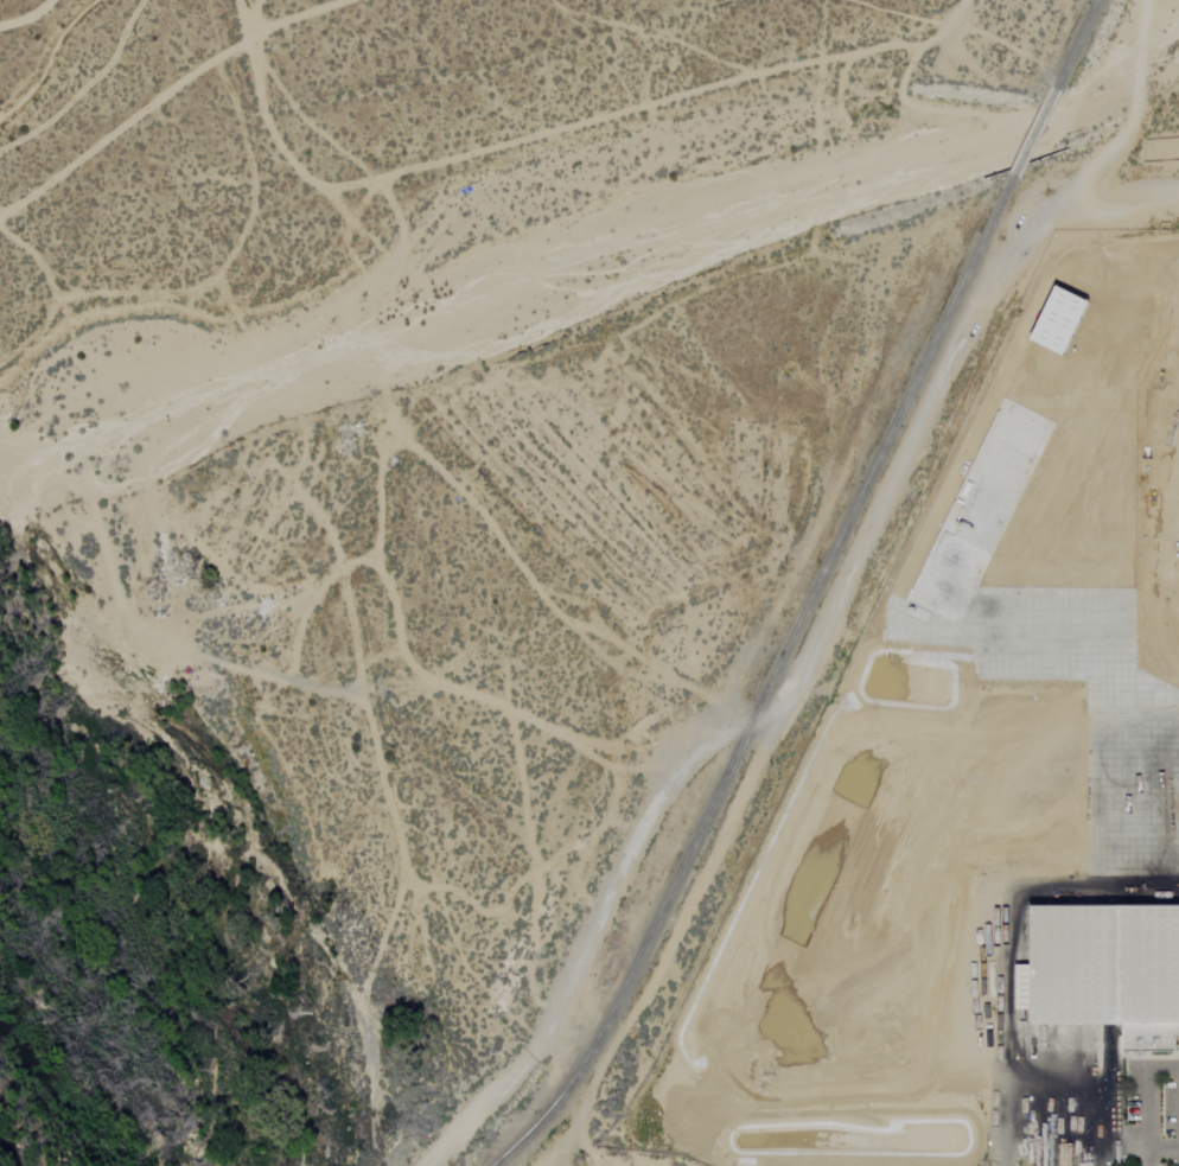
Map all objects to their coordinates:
railway: (1077, 45)
railway: (1034, 133)
road: (1119, 199)
road: (828, 609)
railway: (770, 682)
road: (1003, 942)
road: (671, 945)
road: (1100, 1098)
road: (1155, 1148)

